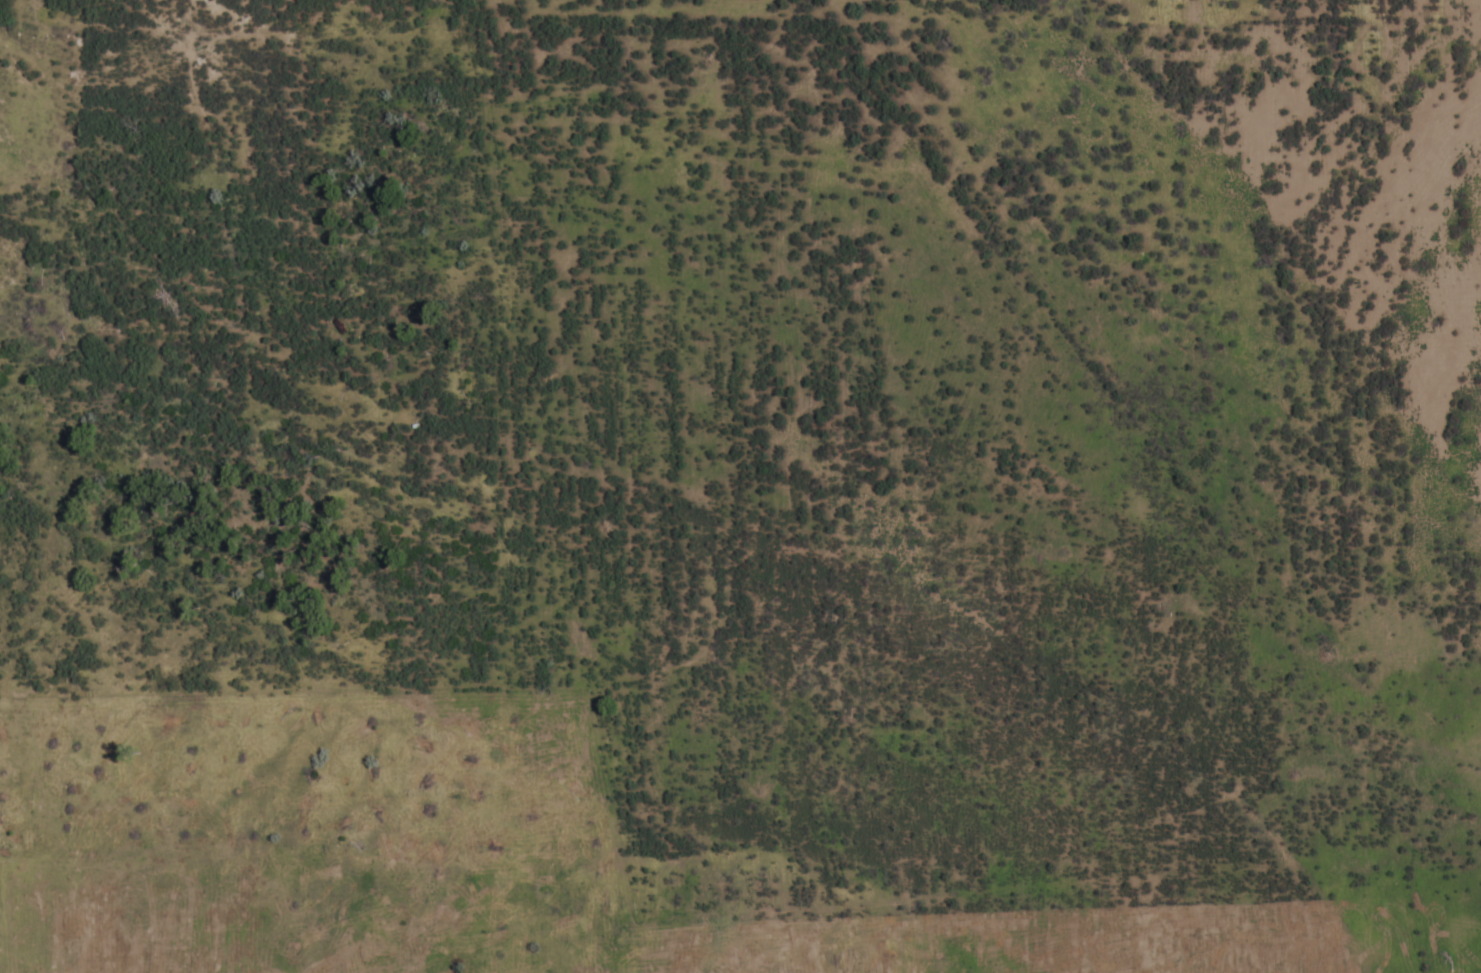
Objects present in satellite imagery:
road: (1408, 858)

